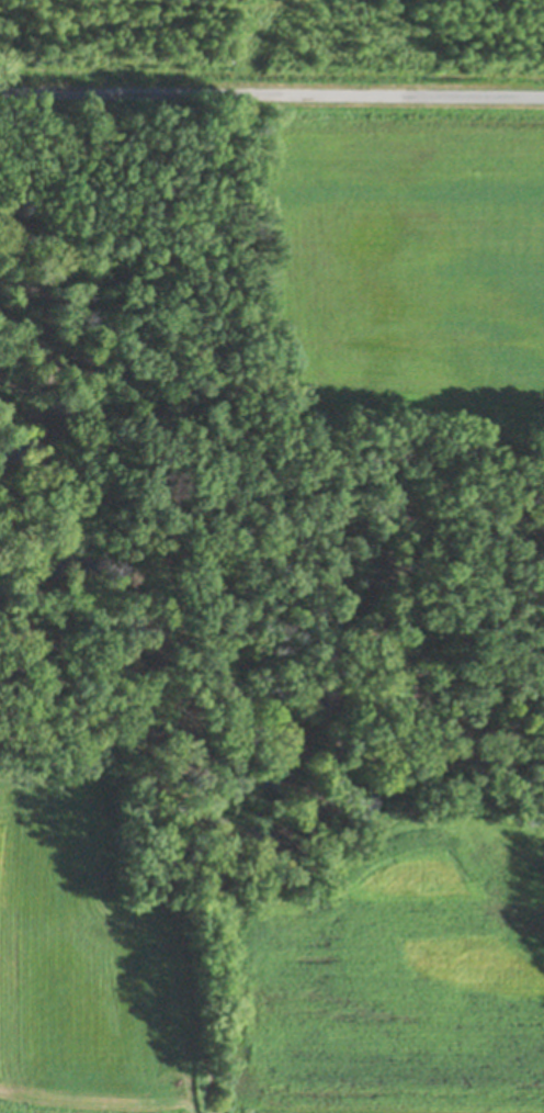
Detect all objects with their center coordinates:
road: (272, 94)

